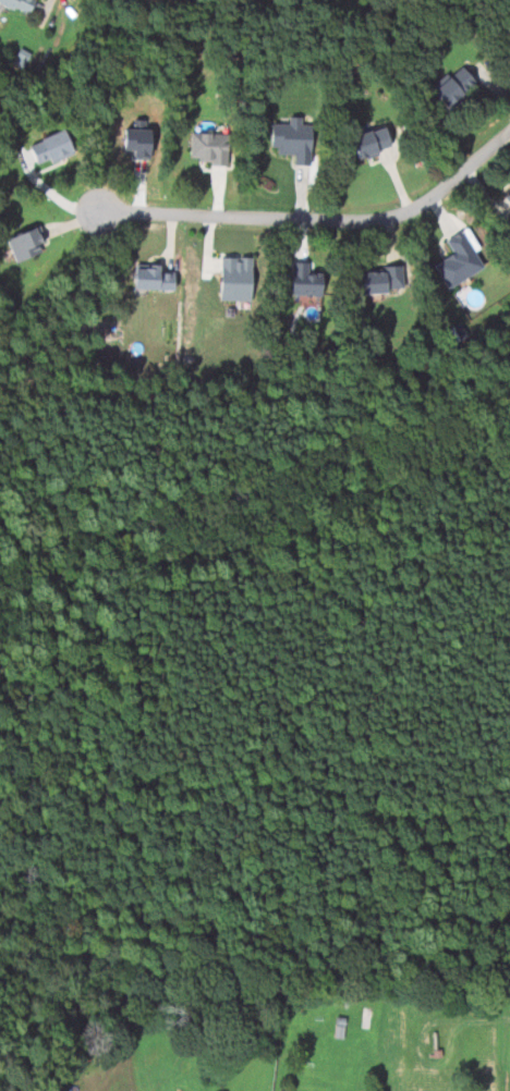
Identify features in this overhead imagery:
road: (48, 3)
building: (16, 4)
building: (452, 86)
building: (290, 139)
building: (368, 142)
building: (48, 147)
building: (206, 148)
building: (508, 197)
road: (321, 220)
building: (24, 245)
building: (456, 260)
building: (150, 279)
building: (233, 279)
building: (303, 280)
building: (379, 280)

